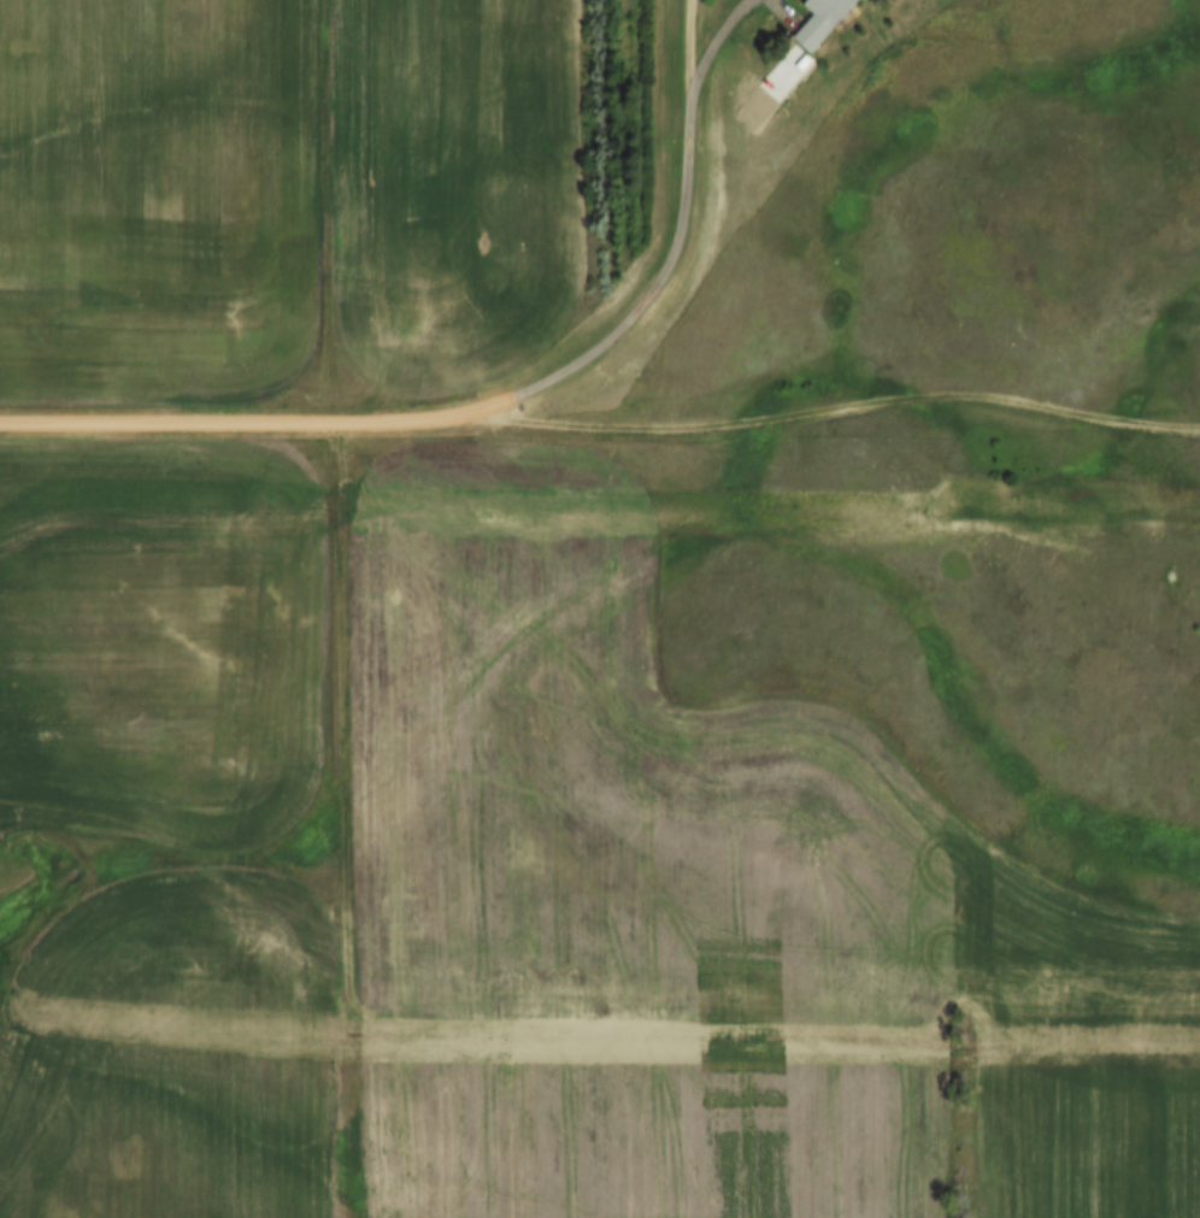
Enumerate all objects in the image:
building: (830, 22)
road: (690, 48)
road: (680, 228)
road: (820, 419)
road: (261, 422)

